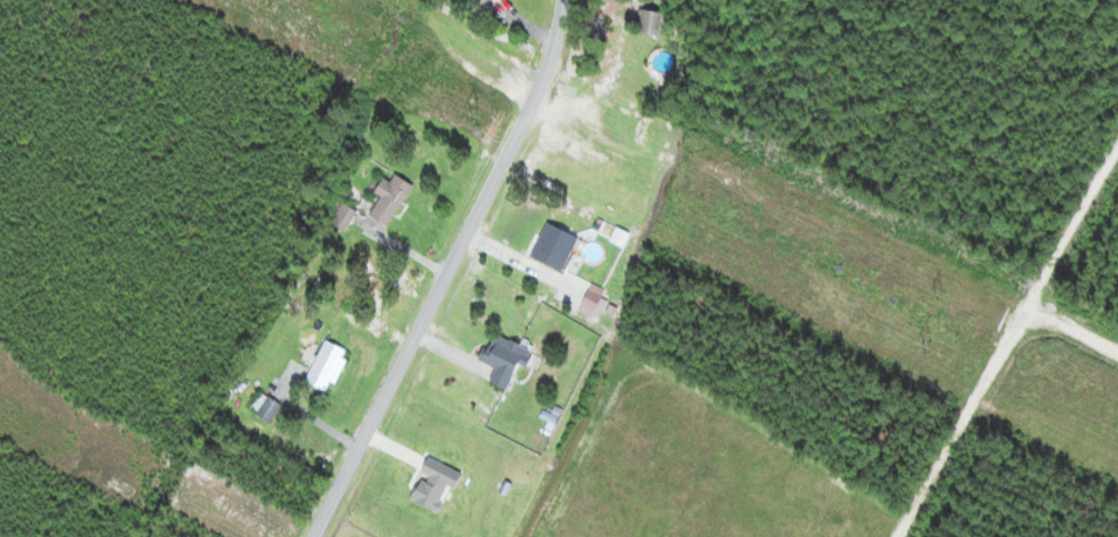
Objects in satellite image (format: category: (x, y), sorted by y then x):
building: (480, 6)
building: (653, 23)
power tower: (559, 87)
power tower: (475, 111)
building: (389, 197)
building: (343, 215)
building: (555, 246)
road: (411, 270)
power tower: (946, 284)
building: (591, 301)
road: (1105, 333)
power tower: (926, 343)
building: (506, 359)
building: (327, 366)
building: (267, 407)

